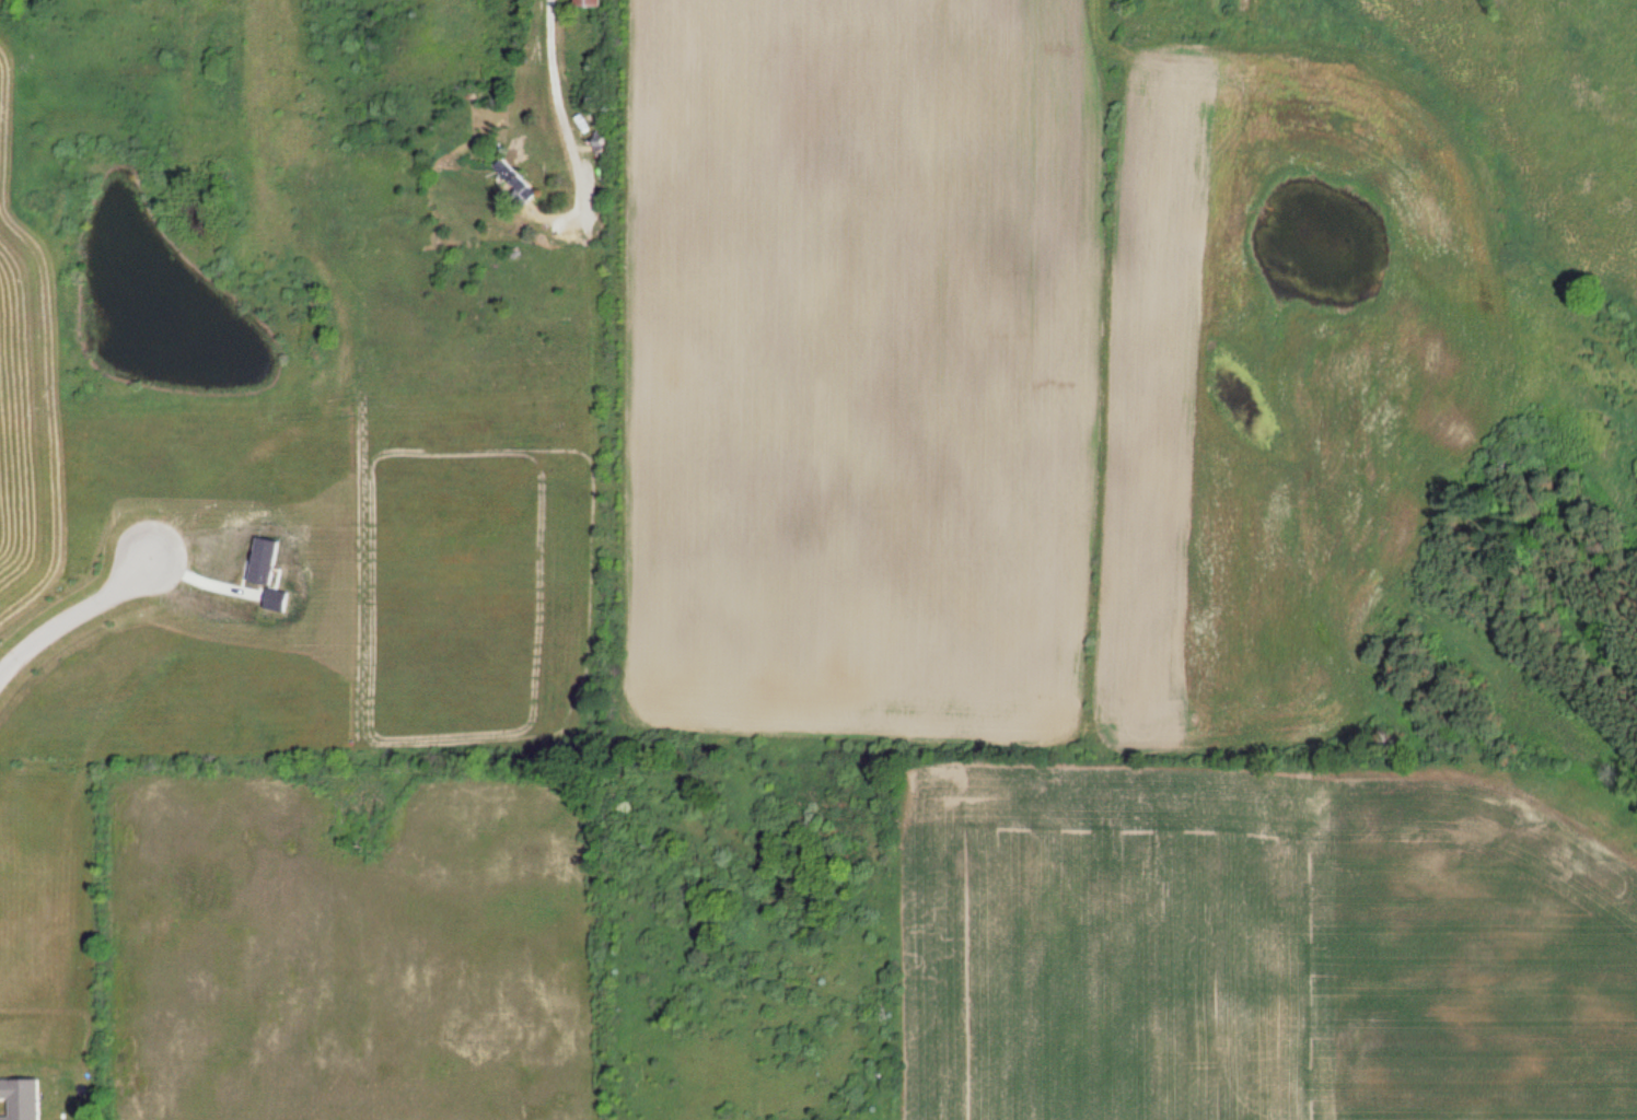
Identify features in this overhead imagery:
building: (585, 2)
building: (511, 179)
road: (73, 612)

